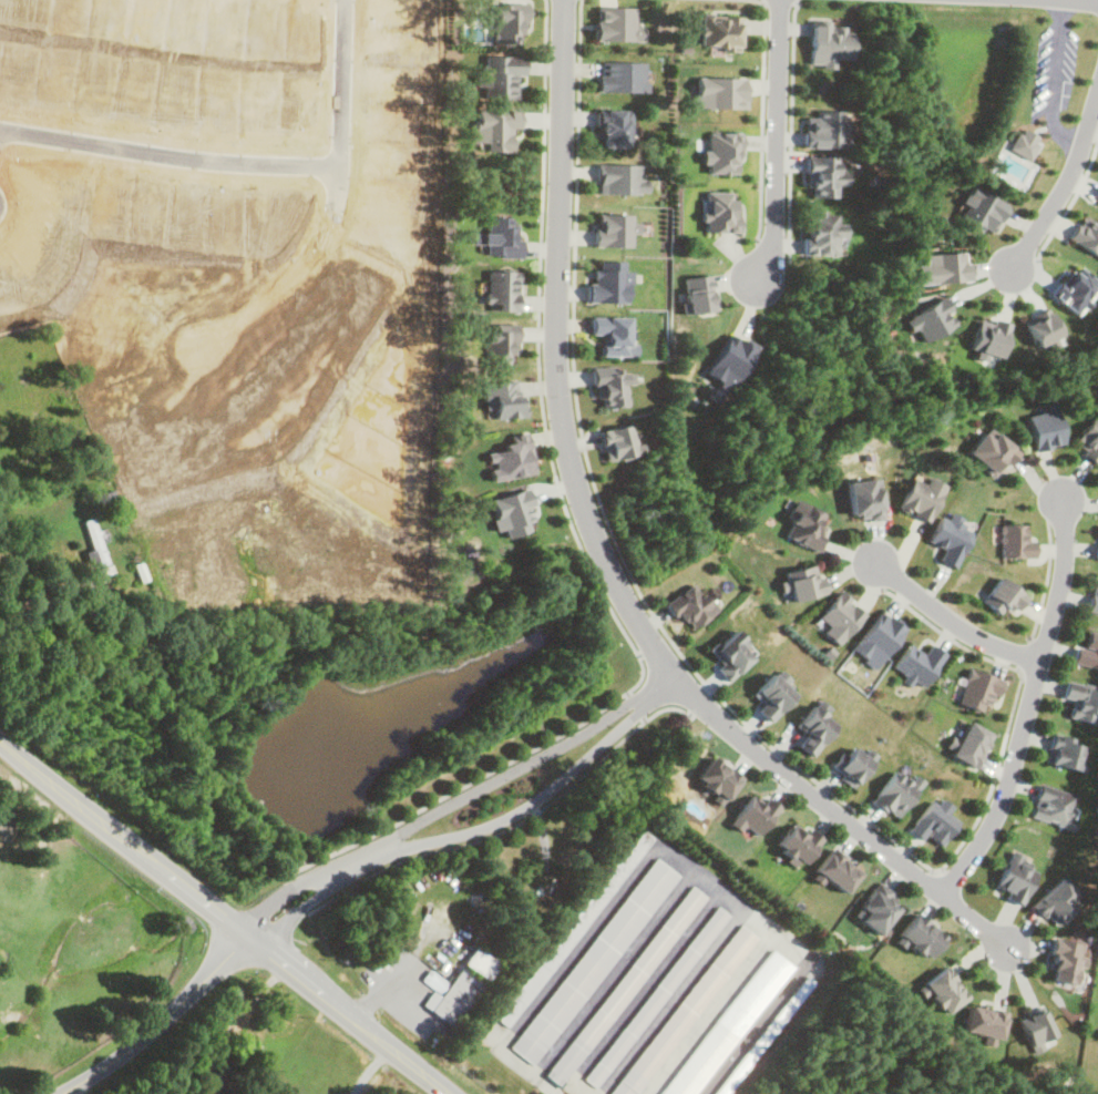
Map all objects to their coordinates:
road: (778, 0)
road: (797, 0)
road: (1085, 1)
building: (719, 31)
road: (1065, 73)
building: (500, 75)
building: (622, 76)
road: (762, 121)
building: (613, 127)
road: (790, 130)
road: (777, 142)
road: (247, 157)
building: (823, 175)
building: (619, 178)
road: (1064, 183)
road: (1066, 208)
building: (821, 232)
building: (503, 289)
building: (613, 335)
building: (502, 399)
building: (1088, 443)
building: (992, 451)
building: (510, 458)
building: (921, 498)
building: (863, 499)
building: (804, 525)
building: (95, 550)
road: (577, 550)
building: (1096, 553)
road: (601, 559)
road: (1045, 582)
road: (44, 592)
building: (1004, 596)
building: (1092, 596)
building: (689, 606)
road: (950, 621)
building: (1087, 651)
building: (730, 653)
road: (1024, 654)
road: (695, 669)
building: (771, 696)
road: (699, 699)
building: (1081, 702)
road: (635, 705)
road: (1026, 709)
building: (813, 729)
building: (969, 744)
building: (1064, 753)
building: (852, 764)
building: (717, 778)
building: (895, 793)
road: (452, 802)
building: (1053, 806)
building: (752, 815)
building: (932, 822)
road: (512, 826)
road: (471, 830)
building: (797, 845)
road: (357, 860)
building: (837, 870)
building: (1014, 878)
building: (1057, 902)
building: (875, 909)
road: (224, 920)
building: (572, 928)
building: (920, 935)
building: (592, 961)
building: (1064, 961)
road: (401, 963)
building: (480, 963)
building: (624, 985)
building: (944, 990)
building: (655, 996)
building: (453, 998)
building: (685, 1011)
building: (985, 1022)
road: (157, 1023)
building: (223, 1080)

